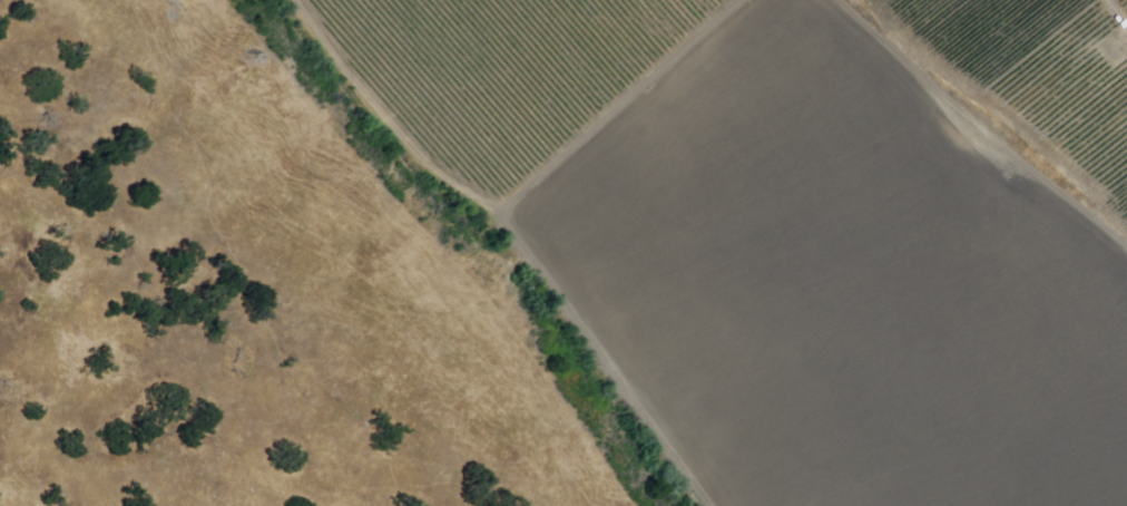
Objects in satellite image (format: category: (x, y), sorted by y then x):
crop: (981, 30)
crop: (744, 227)
crop: (843, 283)

